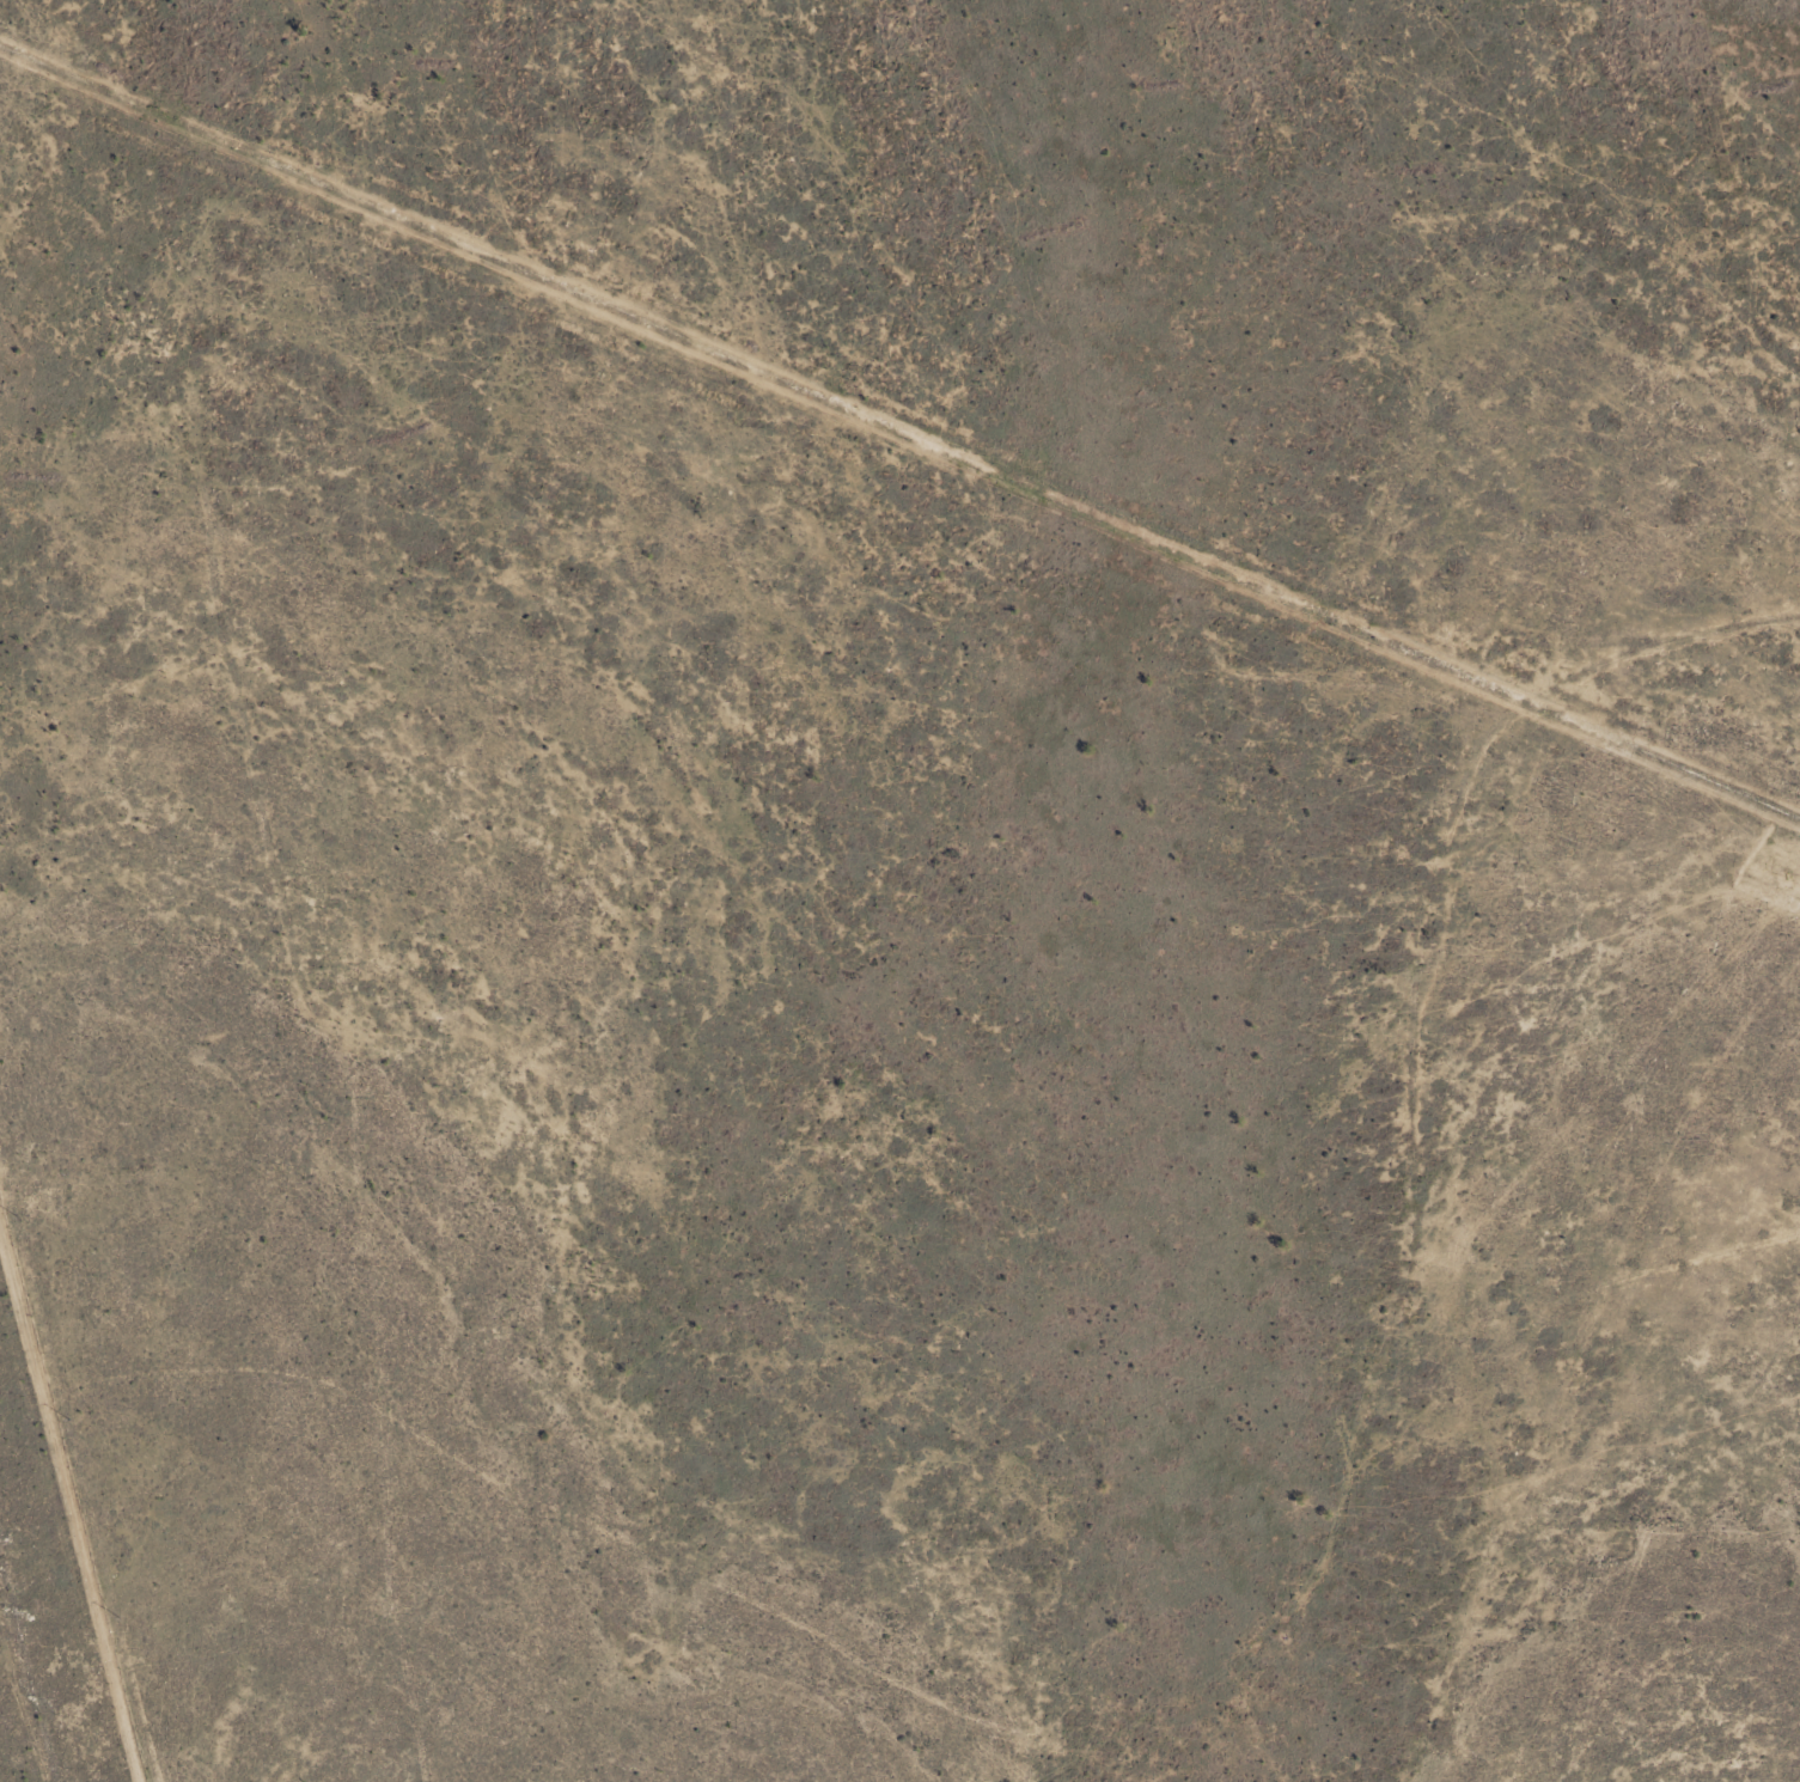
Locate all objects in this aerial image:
road: (359, 923)
road: (1360, 1148)

